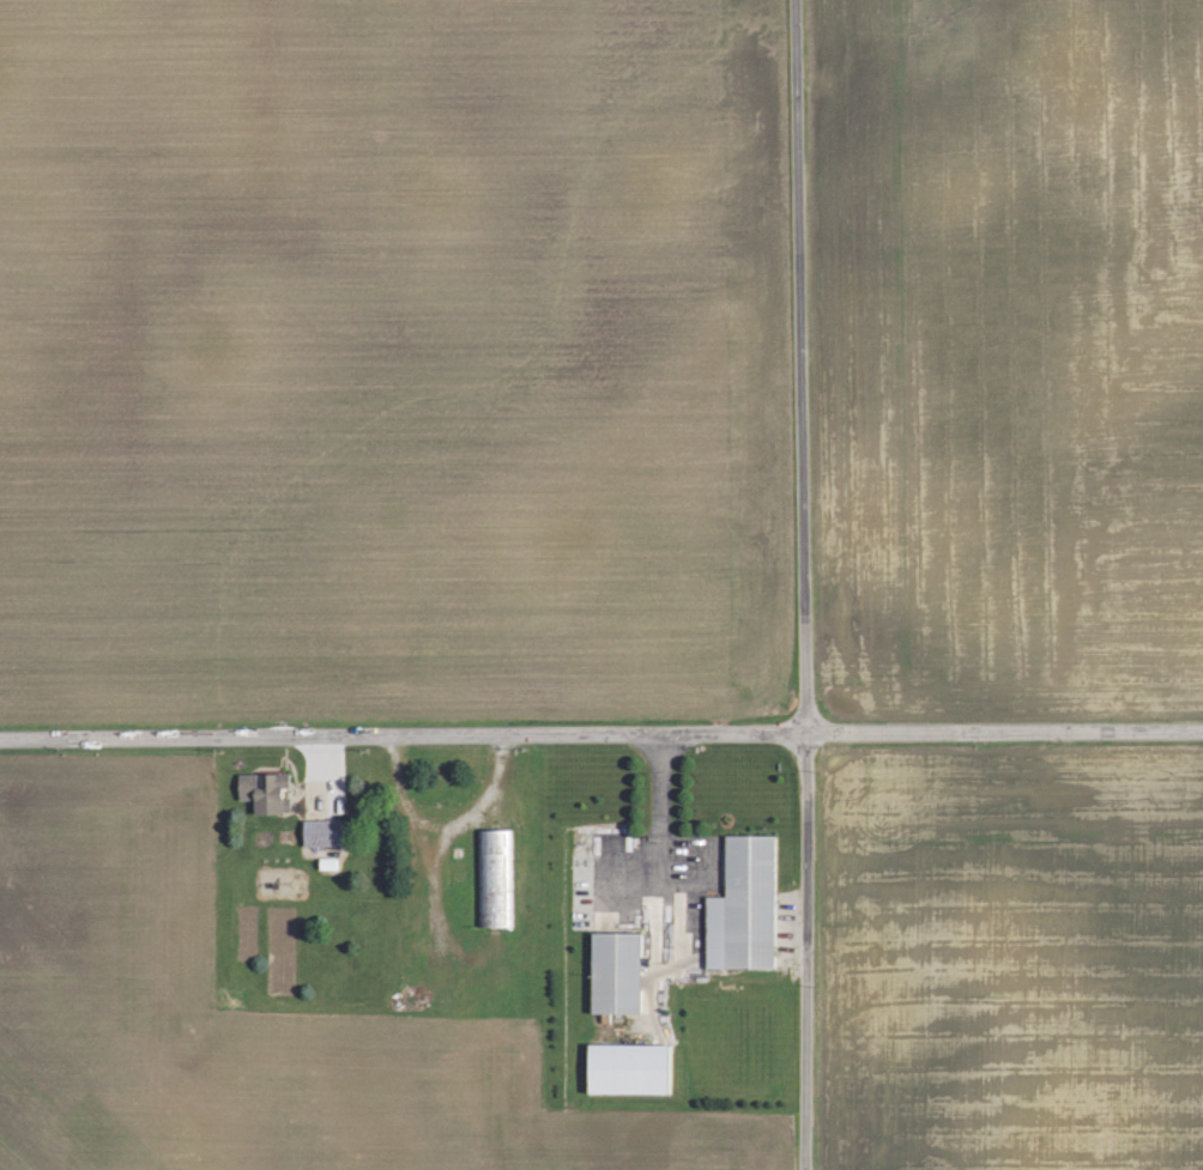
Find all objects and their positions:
road: (790, 584)
road: (601, 735)
building: (265, 792)
road: (659, 812)
building: (318, 832)
building: (495, 878)
building: (743, 907)
building: (616, 972)
building: (628, 1068)

